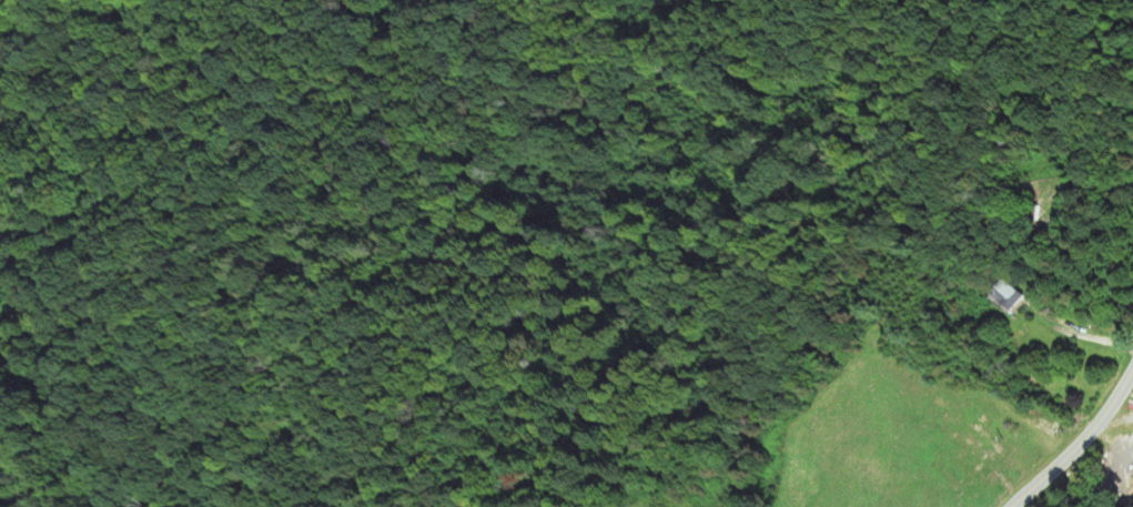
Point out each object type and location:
building: (1009, 297)
road: (1080, 442)

